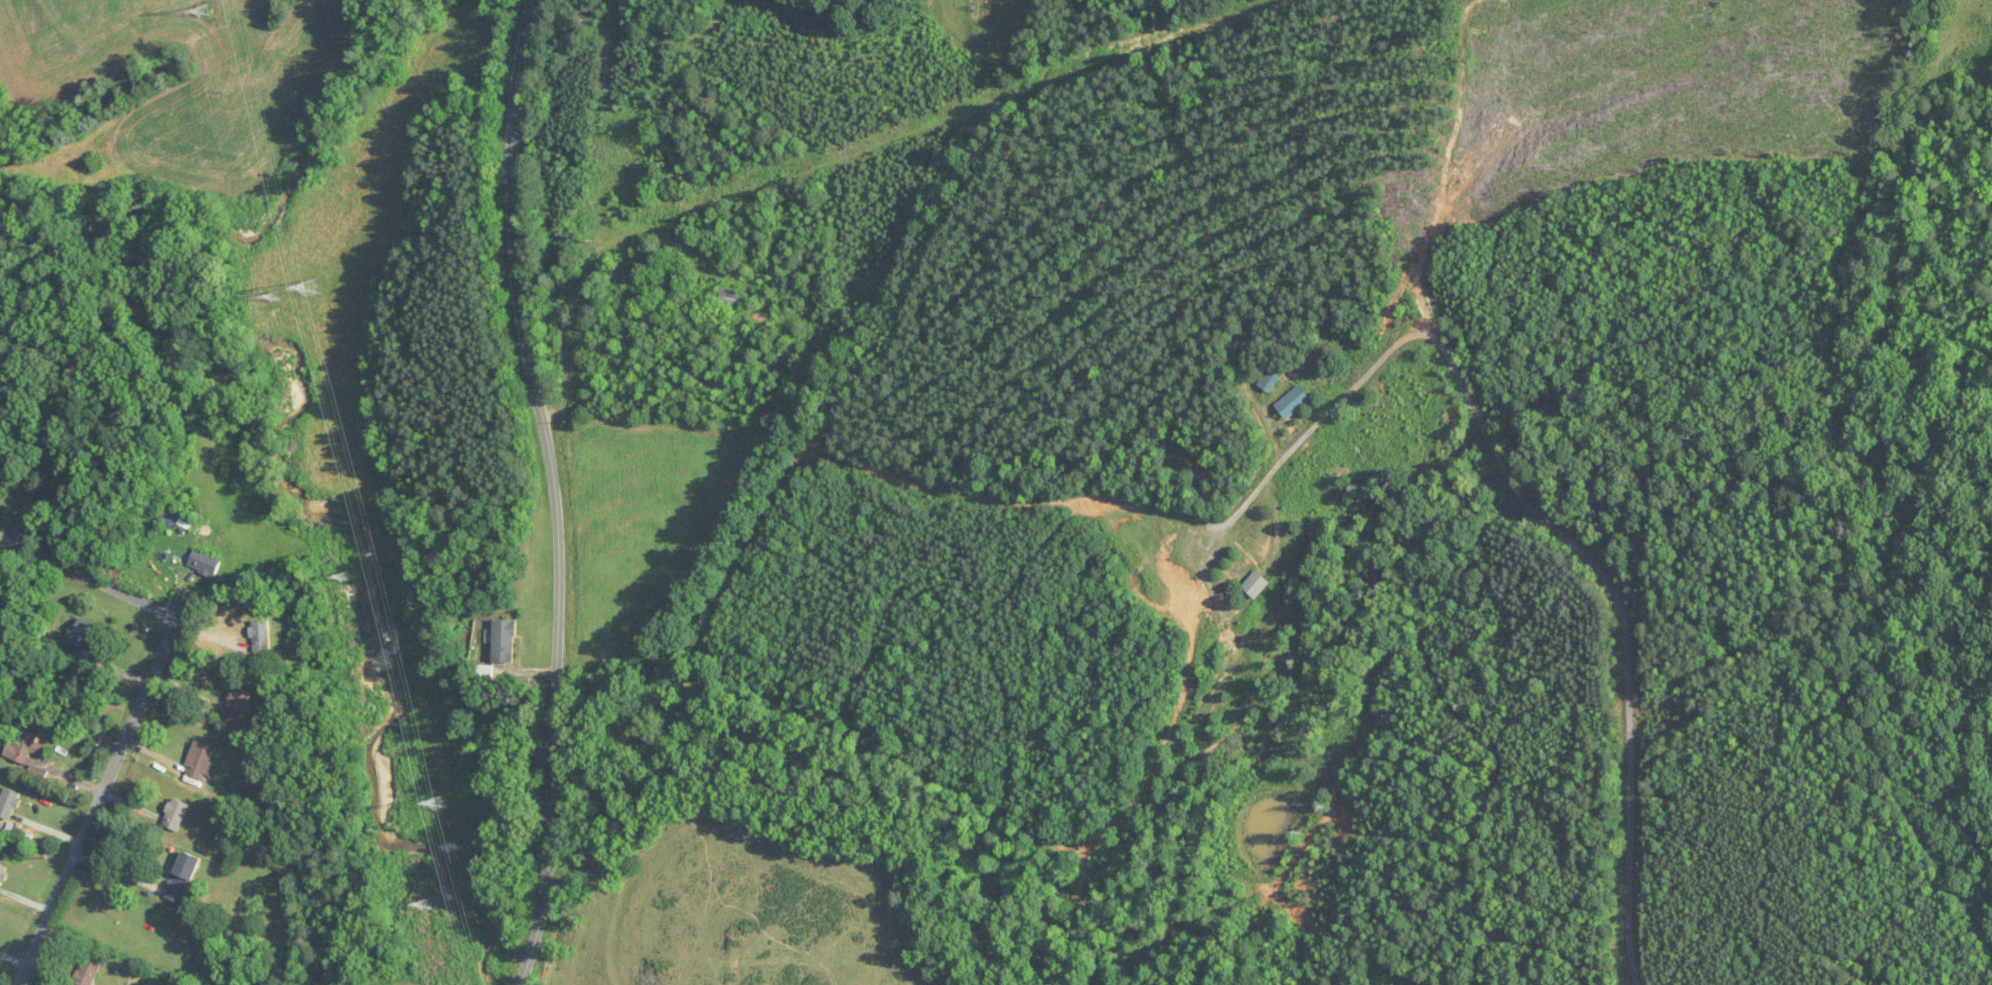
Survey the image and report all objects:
power tower: (204, 7)
power tower: (276, 294)
building: (733, 299)
road: (542, 386)
building: (42, 494)
building: (176, 517)
road: (1543, 518)
building: (205, 563)
power tower: (346, 576)
road: (90, 582)
building: (1257, 584)
building: (260, 635)
building: (81, 638)
building: (504, 641)
building: (486, 676)
building: (236, 706)
building: (26, 748)
building: (199, 760)
road: (562, 780)
building: (9, 803)
road: (100, 803)
building: (175, 814)
building: (3, 873)
building: (184, 877)
road: (554, 887)
power tower: (428, 904)
building: (88, 972)

